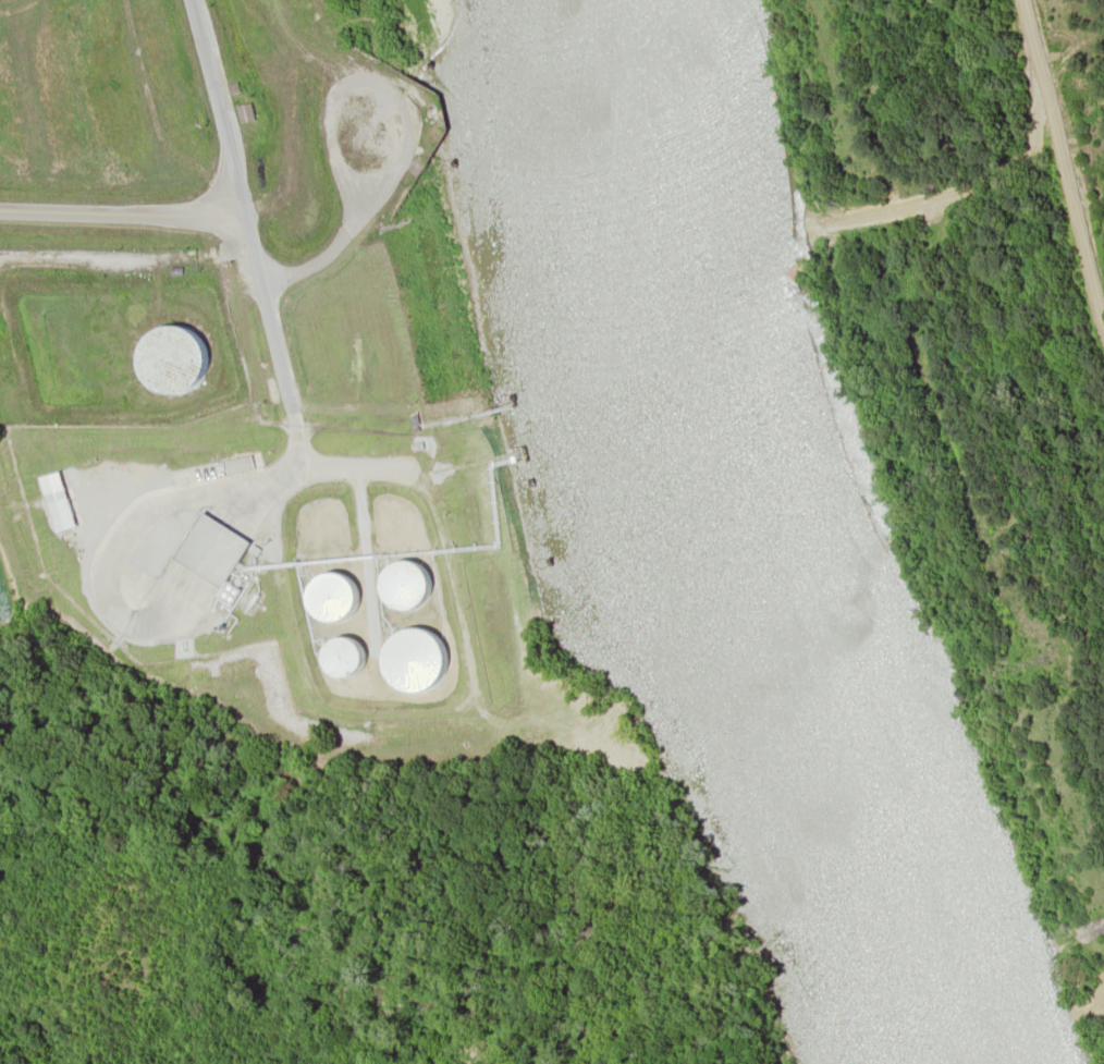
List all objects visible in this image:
building: (243, 112)
road: (237, 199)
road: (121, 211)
building: (168, 359)
building: (237, 464)
building: (208, 550)
building: (402, 586)
building: (329, 596)
building: (340, 657)
building: (410, 660)

